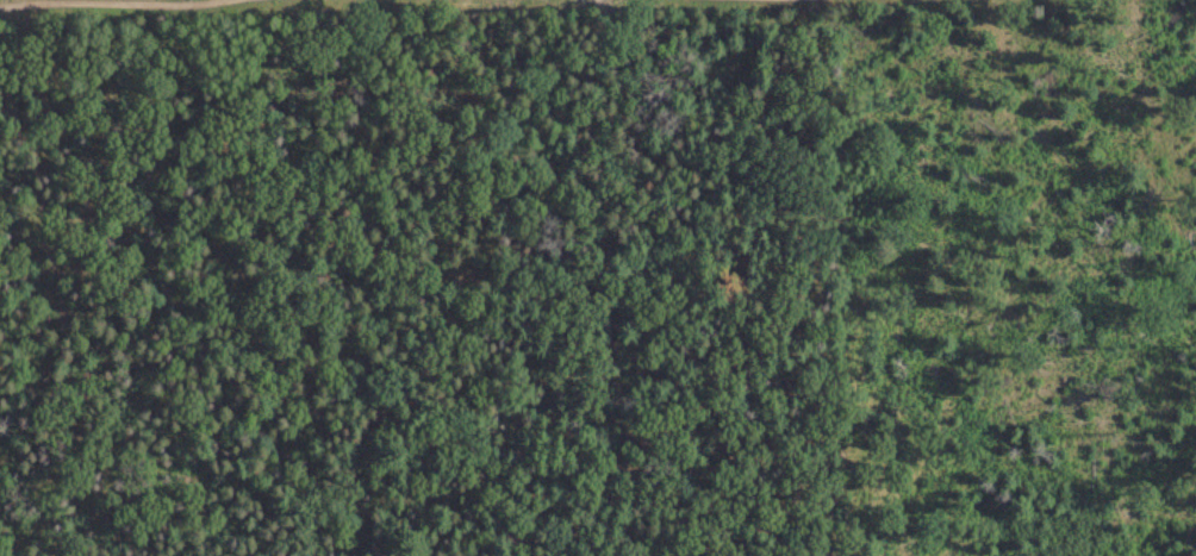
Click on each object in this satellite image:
road: (64, 299)
road: (496, 355)
road: (324, 444)

